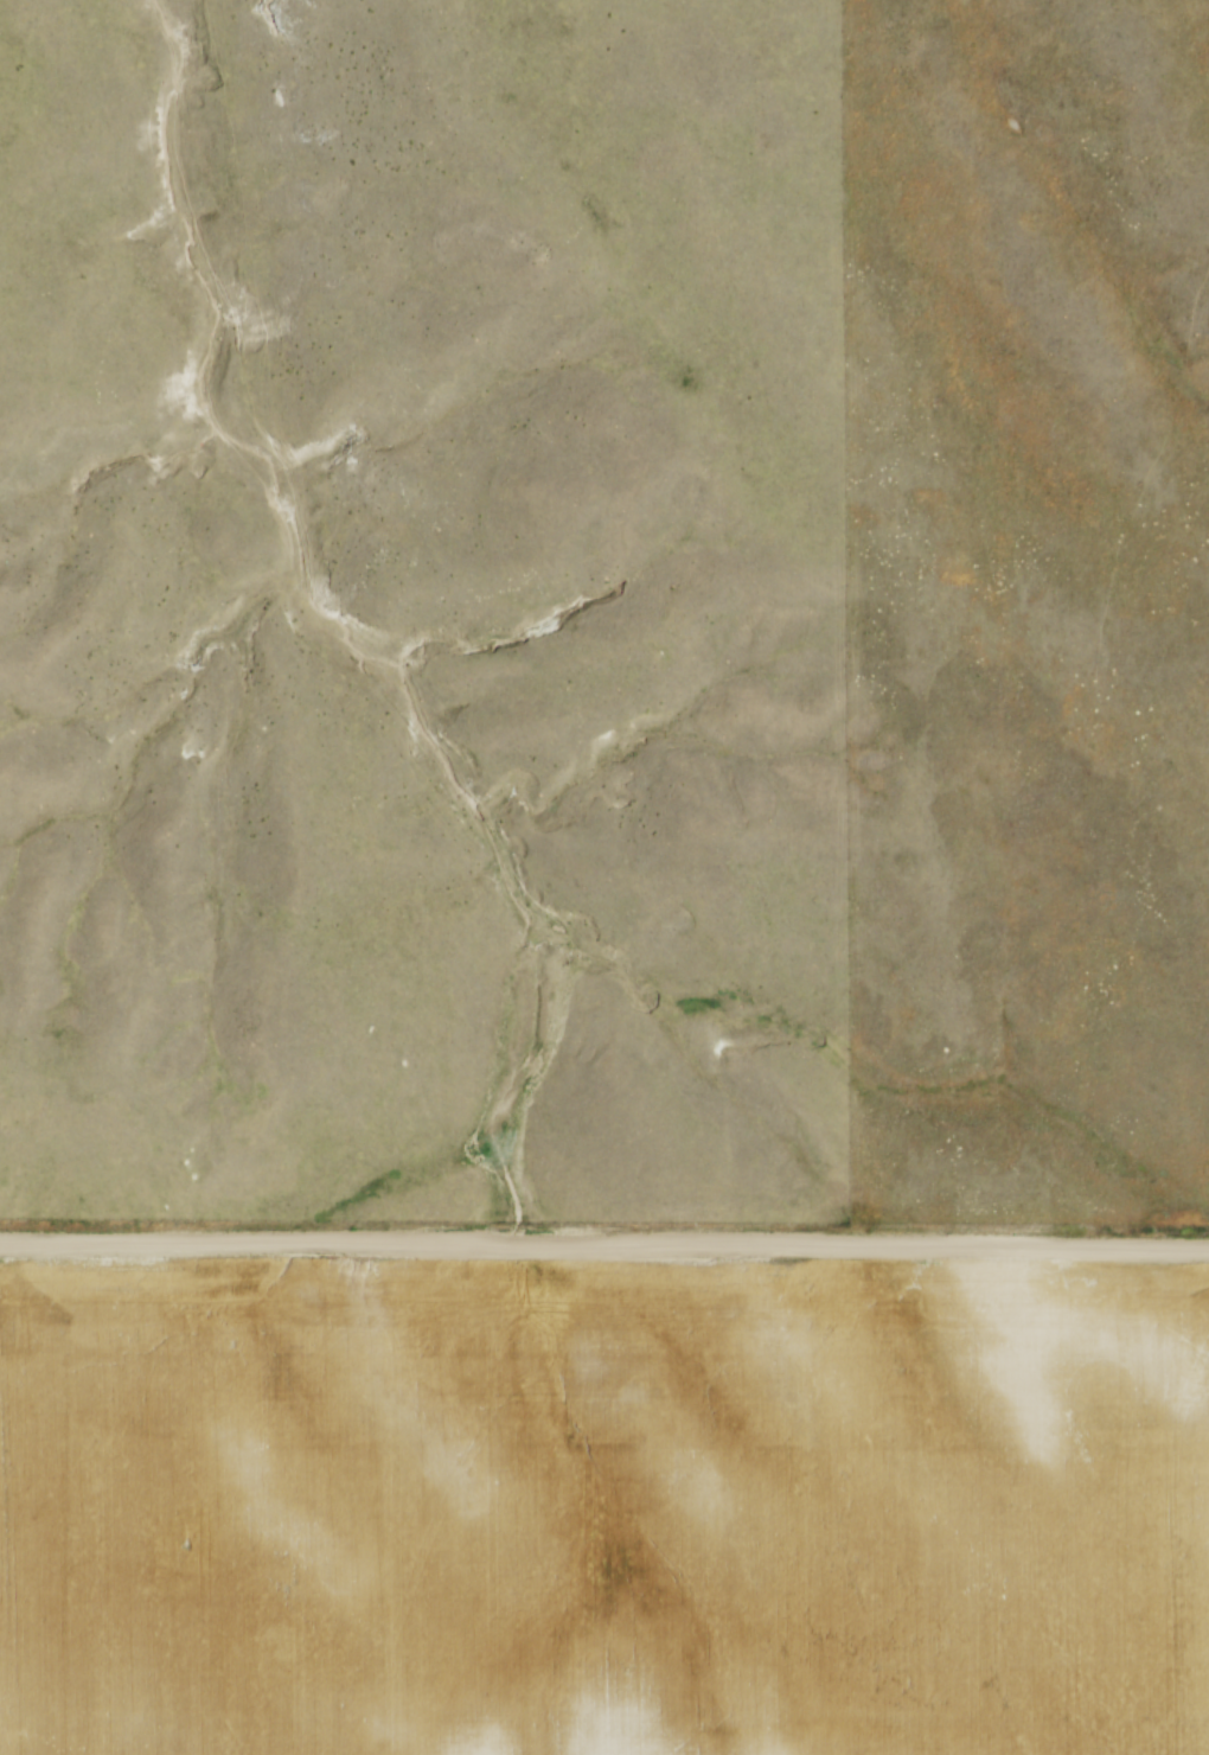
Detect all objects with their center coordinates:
road: (603, 1242)
crop: (603, 1506)

